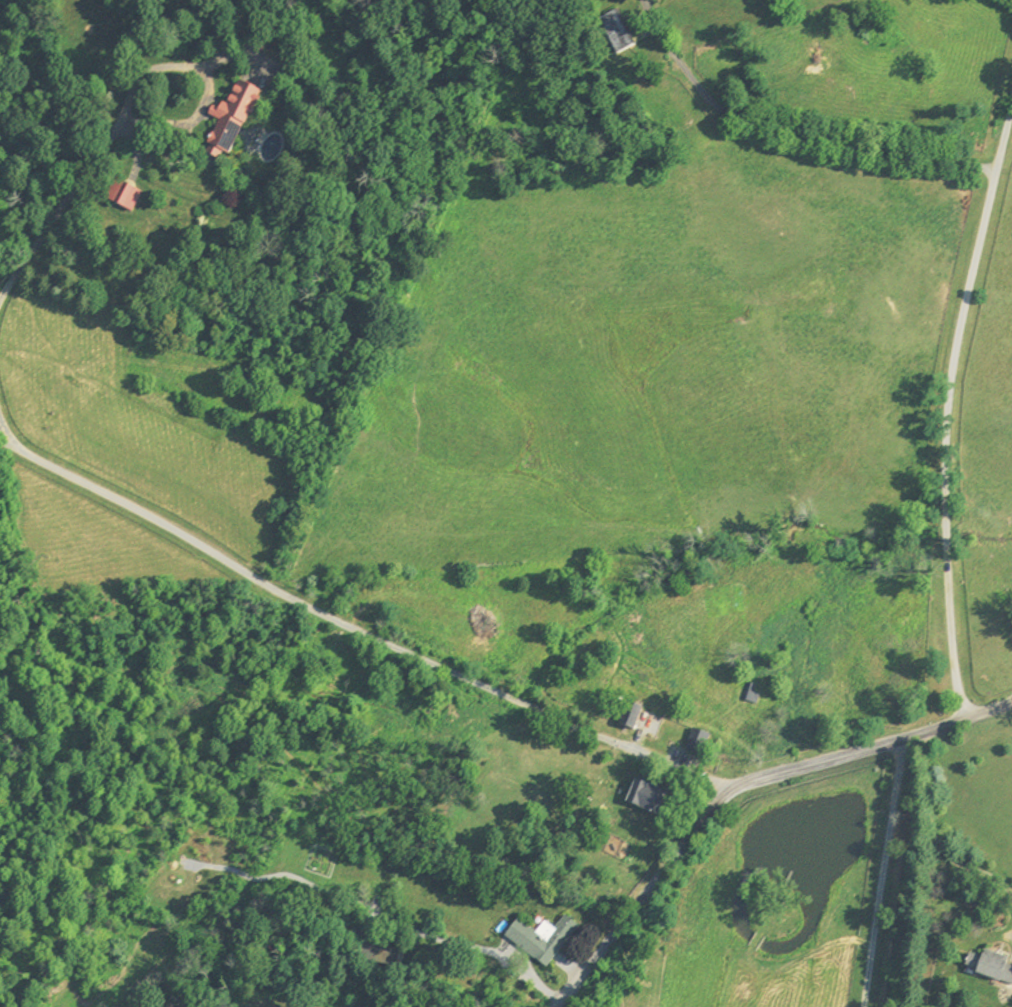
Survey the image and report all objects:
building: (616, 36)
road: (206, 78)
building: (231, 125)
road: (793, 130)
building: (122, 198)
road: (58, 207)
road: (946, 412)
road: (6, 431)
road: (358, 624)
building: (631, 717)
road: (737, 787)
building: (649, 799)
road: (934, 835)
road: (884, 873)
building: (539, 942)
building: (379, 958)
building: (990, 969)

